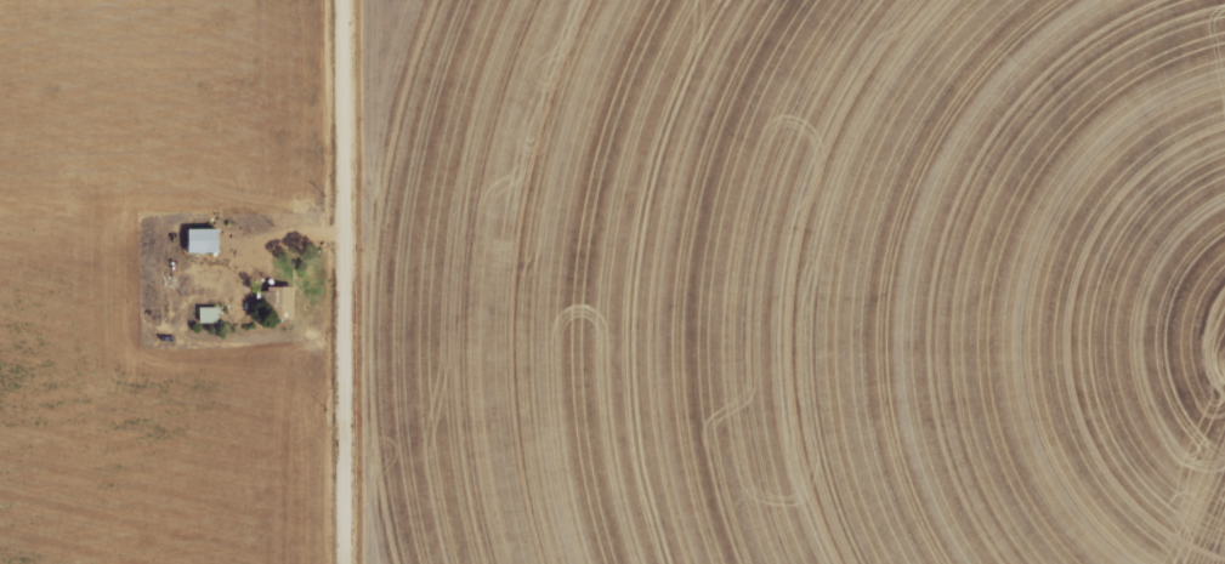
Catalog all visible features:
road: (344, 281)
building: (210, 315)

